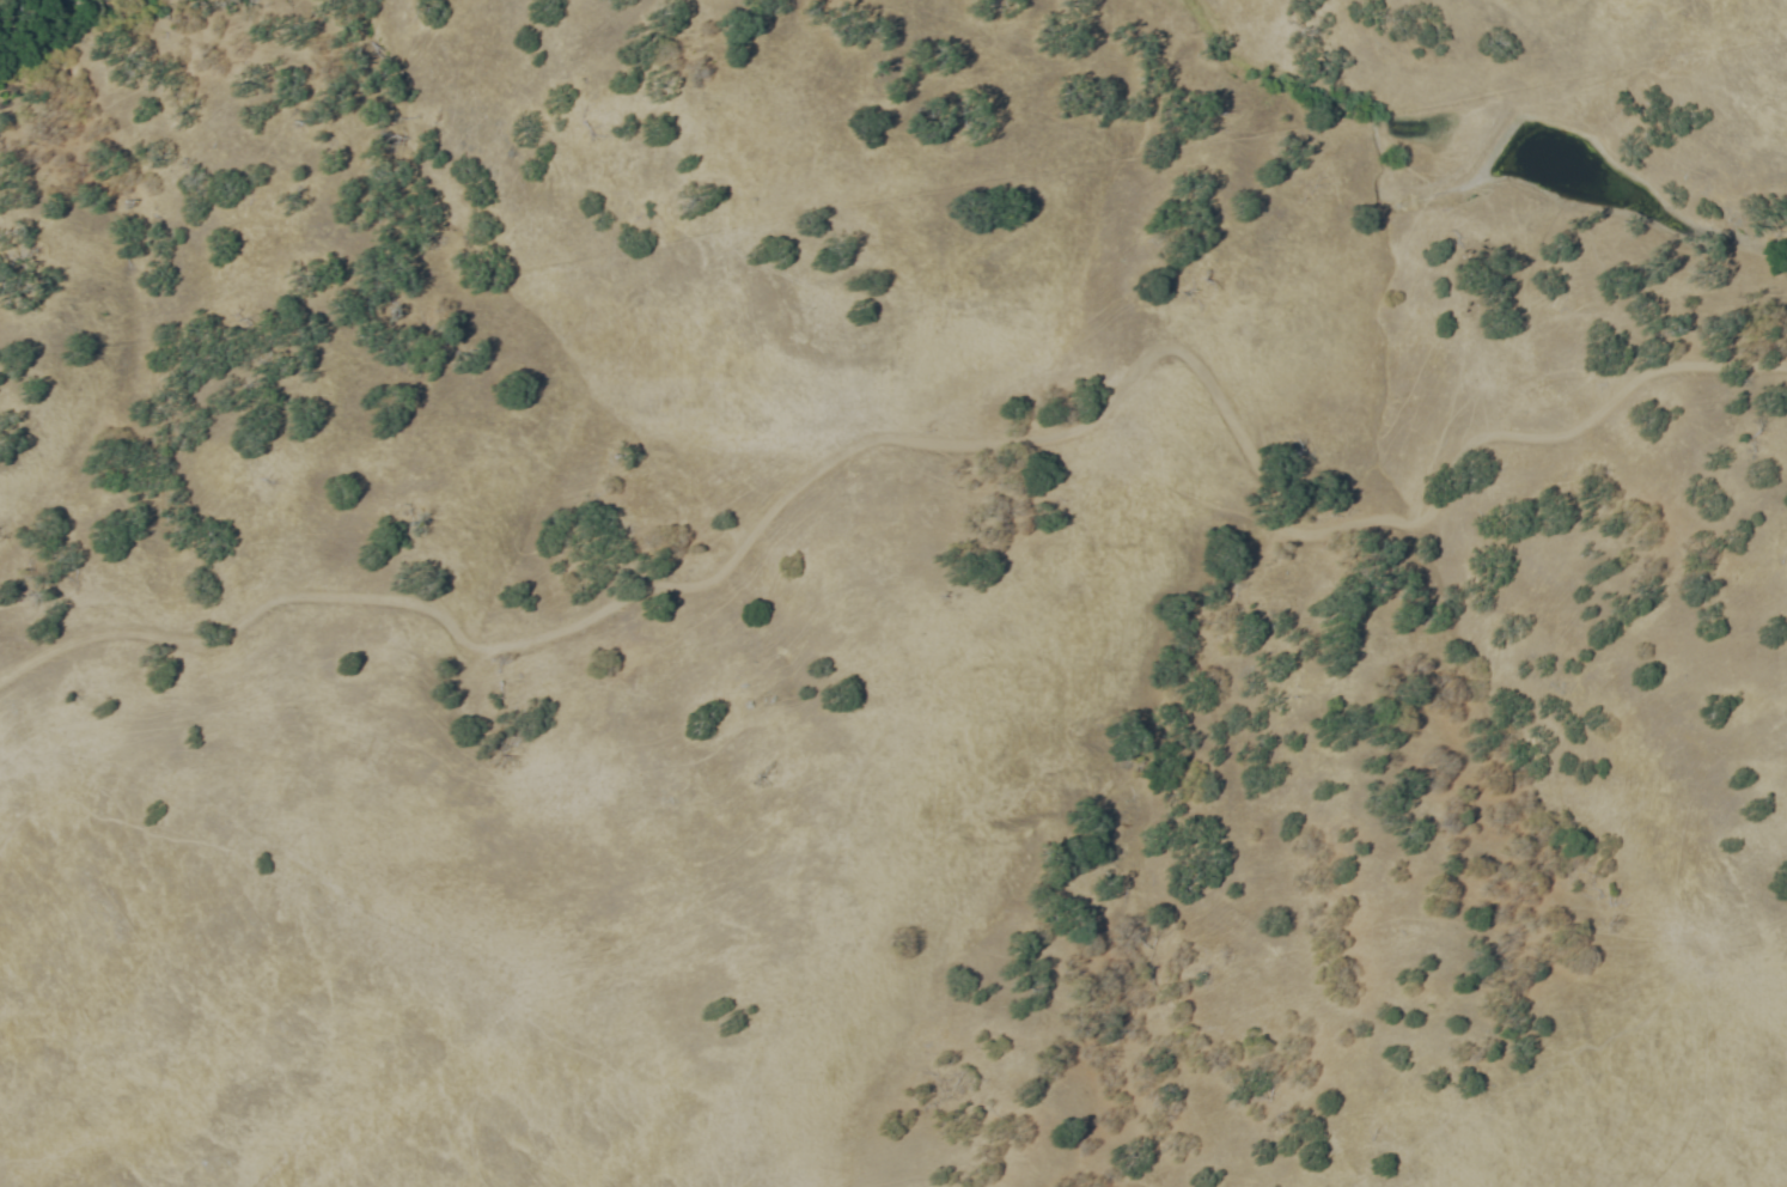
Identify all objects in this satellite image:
road: (1545, 439)
road: (722, 568)

